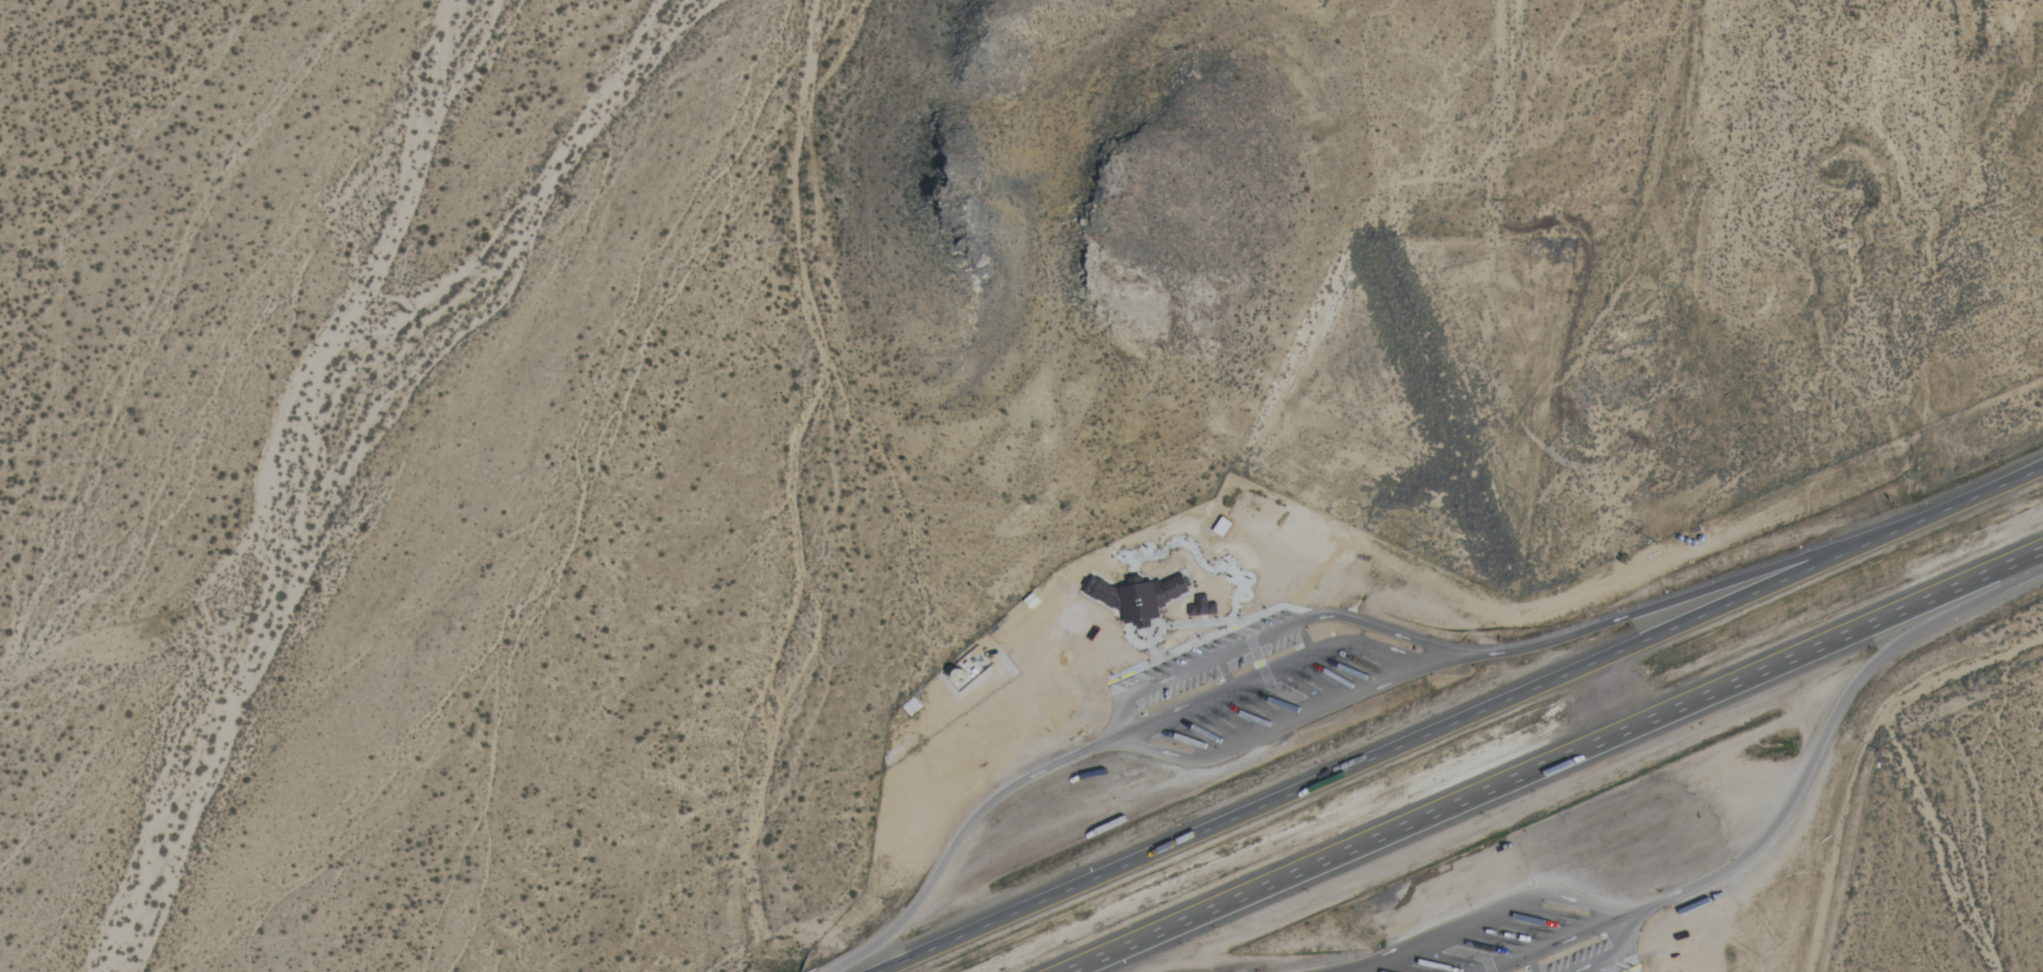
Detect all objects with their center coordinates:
building: (1136, 598)
road: (1664, 599)
road: (1264, 638)
road: (1265, 672)
parking lot: (1265, 685)
road: (1455, 721)
road: (1282, 723)
road: (1830, 725)
railway: (1516, 742)
road: (1557, 761)
road: (960, 831)
road: (1493, 913)
parking lot: (1515, 936)
road: (1561, 939)
road: (1463, 951)
road: (1617, 952)
road: (1533, 962)
road: (1630, 969)

